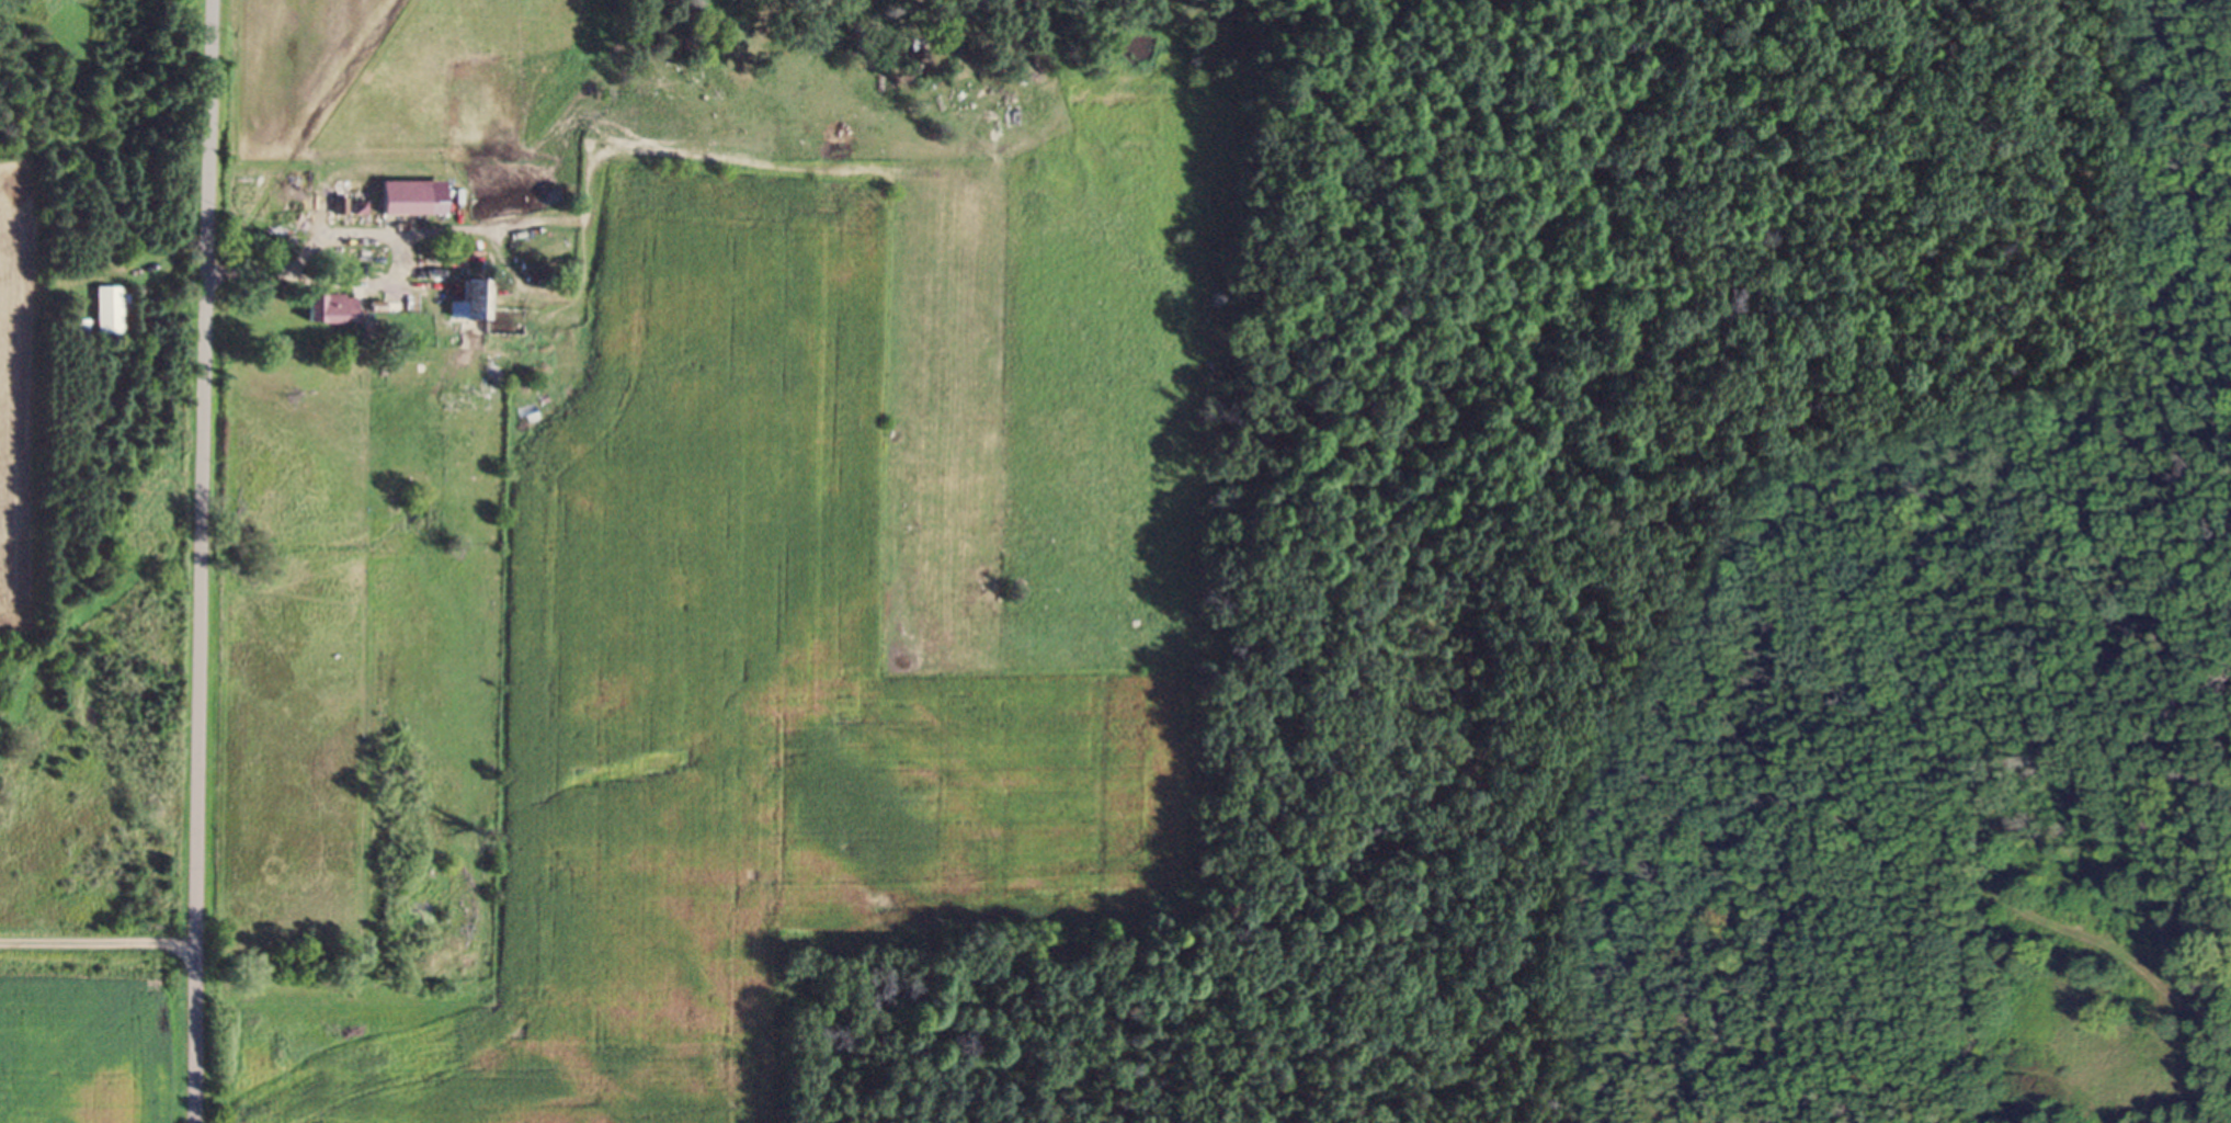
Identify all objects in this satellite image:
building: (405, 202)
road: (473, 232)
road: (379, 283)
building: (475, 304)
building: (331, 313)
building: (110, 315)
road: (204, 560)

